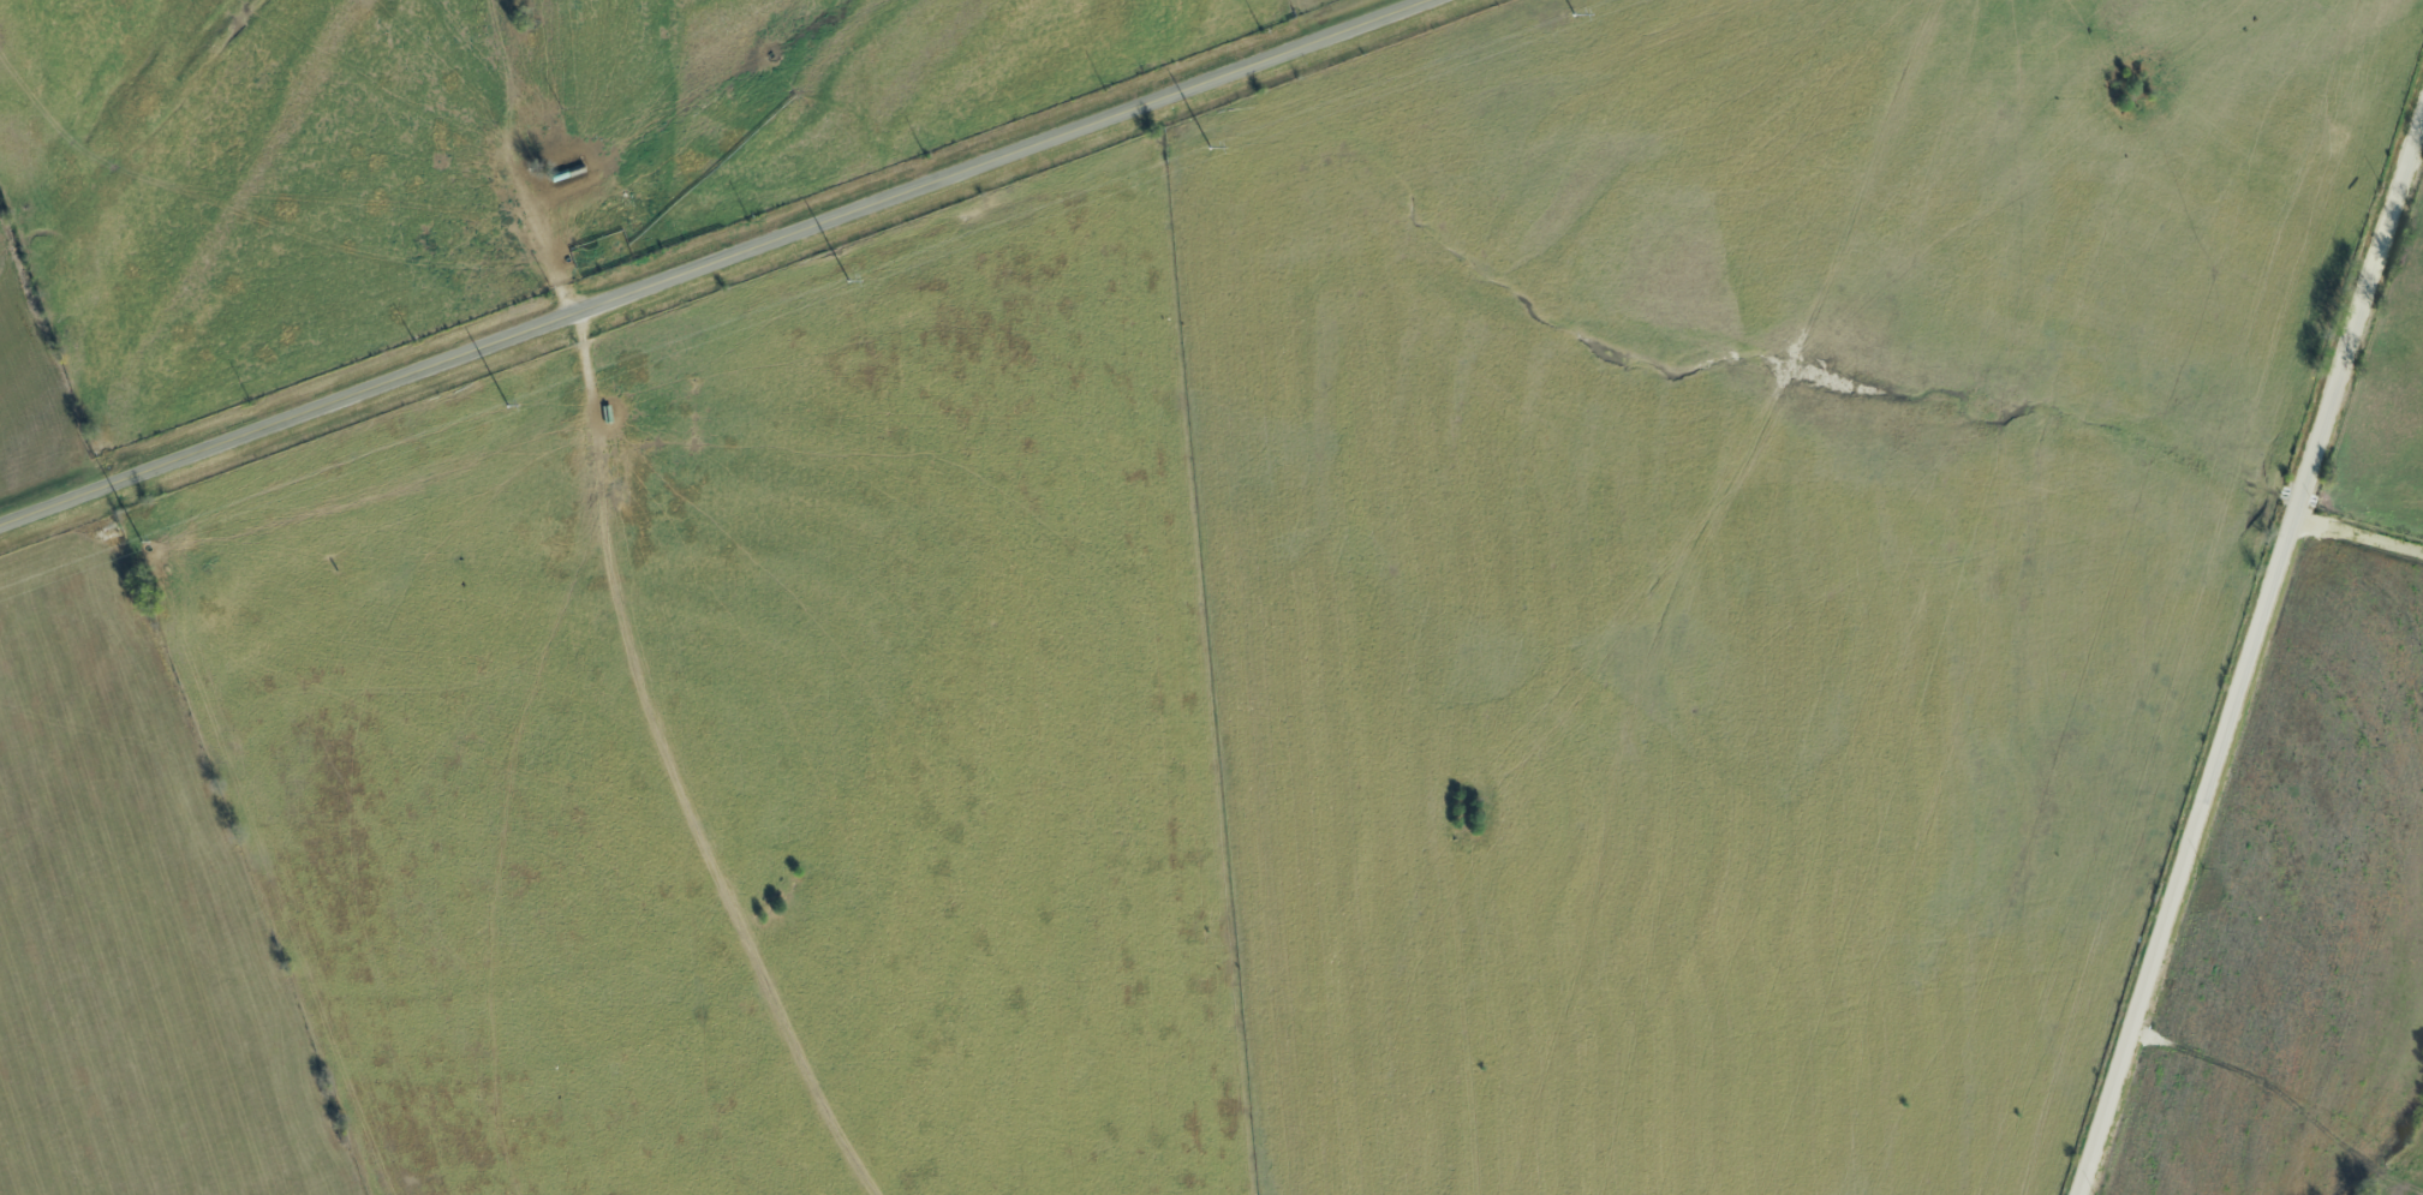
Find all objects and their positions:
power tower: (1574, 14)
power tower: (1206, 148)
road: (716, 261)
power tower: (848, 281)
power tower: (507, 406)
power tower: (142, 542)
road: (2255, 658)

